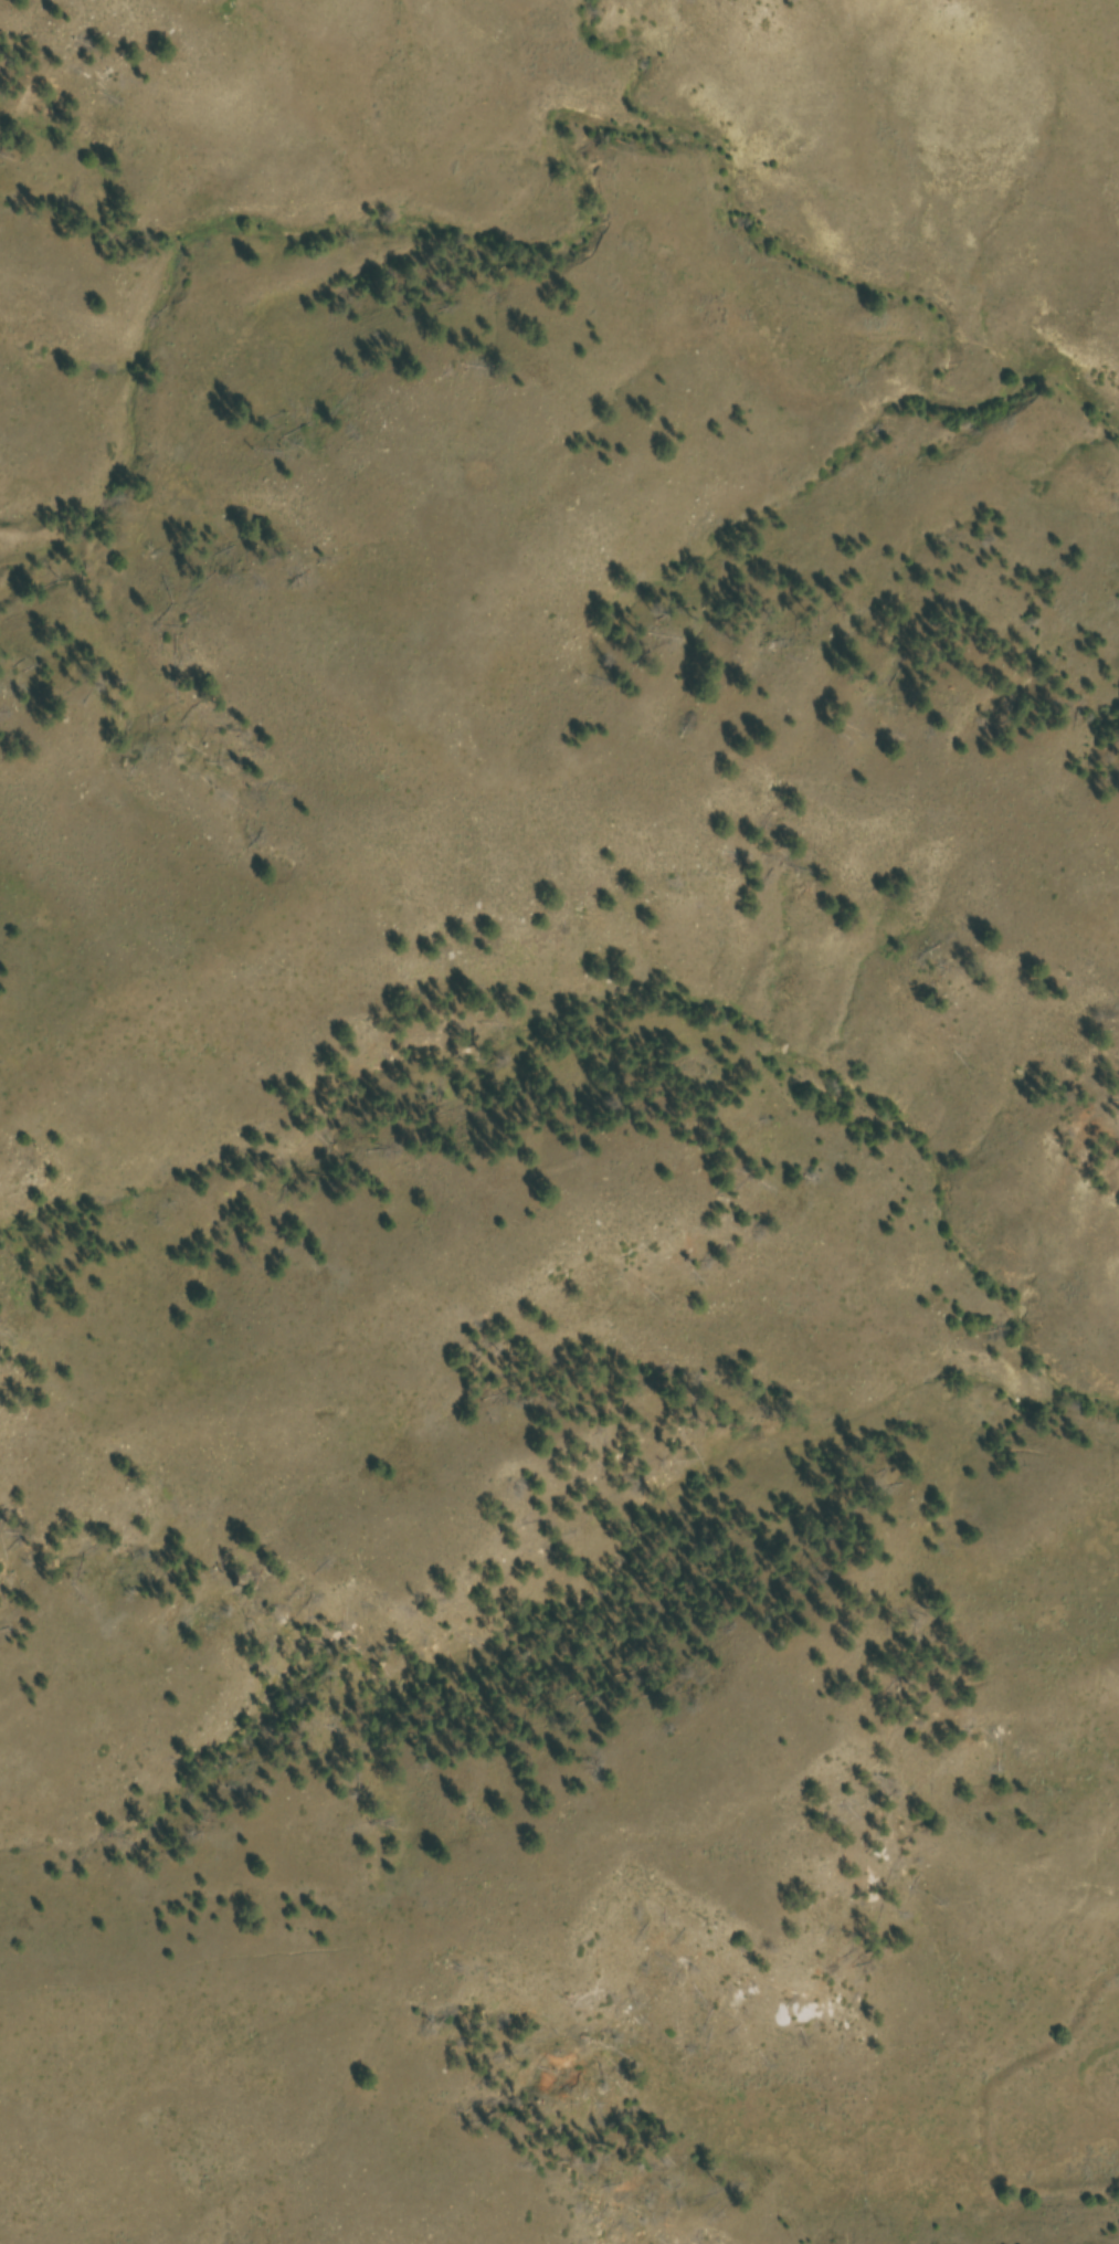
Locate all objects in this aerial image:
park: (1010, 1974)

